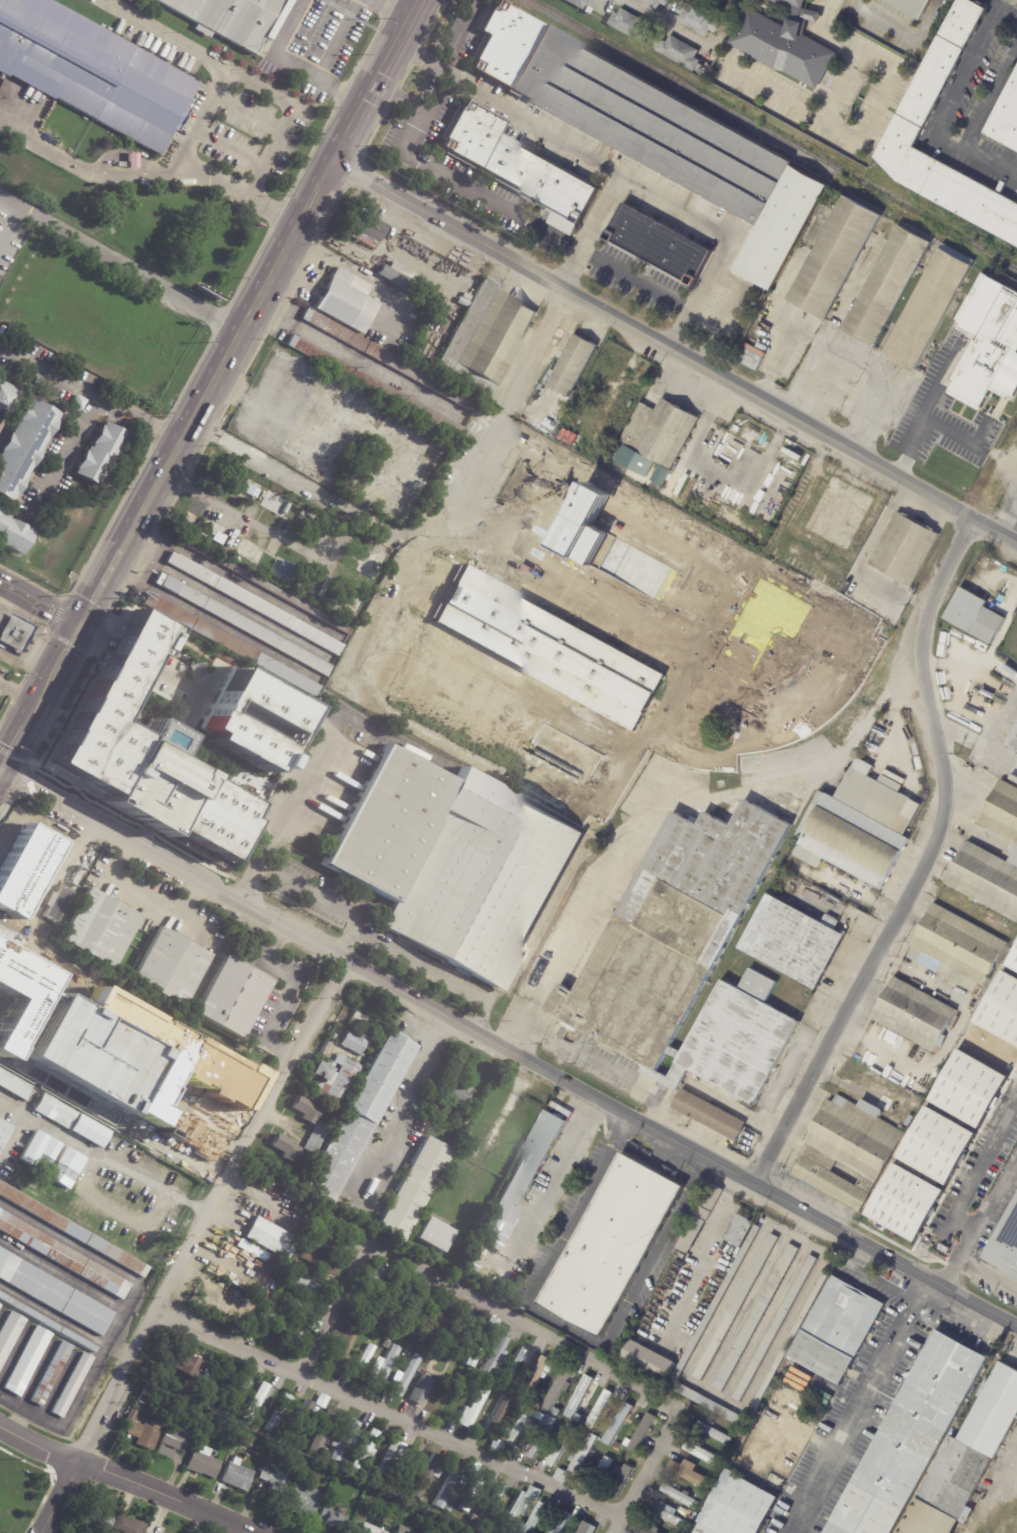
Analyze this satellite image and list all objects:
road: (1016, 0)
building: (579, 3)
building: (656, 3)
building: (913, 6)
road: (393, 9)
road: (412, 9)
building: (237, 18)
building: (696, 18)
road: (1006, 19)
road: (663, 22)
building: (630, 24)
road: (459, 32)
road: (338, 41)
building: (785, 42)
building: (680, 52)
road: (288, 66)
building: (700, 69)
building: (94, 70)
building: (934, 77)
road: (840, 89)
road: (209, 109)
road: (943, 112)
building: (57, 118)
building: (1008, 118)
road: (299, 120)
road: (870, 123)
building: (52, 126)
road: (548, 131)
building: (49, 133)
building: (654, 133)
railway: (771, 134)
building: (133, 158)
building: (515, 168)
road: (86, 169)
road: (453, 177)
building: (367, 225)
road: (12, 234)
building: (657, 247)
road: (398, 252)
building: (829, 260)
road: (121, 263)
road: (346, 265)
road: (576, 274)
building: (397, 277)
road: (637, 282)
building: (881, 287)
road: (697, 292)
building: (343, 300)
building: (921, 311)
road: (245, 321)
building: (485, 340)
building: (990, 344)
road: (674, 352)
road: (682, 352)
building: (752, 355)
road: (358, 359)
road: (767, 378)
building: (566, 383)
building: (375, 385)
railway: (212, 392)
road: (841, 393)
building: (9, 399)
building: (79, 401)
building: (366, 403)
road: (93, 404)
road: (138, 420)
building: (659, 431)
road: (913, 433)
building: (352, 438)
road: (956, 438)
building: (24, 445)
building: (379, 450)
building: (100, 452)
building: (335, 452)
building: (370, 469)
building: (326, 470)
road: (310, 489)
road: (1011, 493)
road: (622, 497)
road: (1001, 513)
road: (241, 516)
building: (806, 529)
building: (13, 533)
building: (286, 537)
building: (904, 549)
road: (428, 560)
parking lot: (688, 570)
building: (266, 586)
building: (531, 594)
road: (41, 602)
building: (255, 604)
building: (975, 616)
building: (582, 621)
traffic signals: (82, 624)
building: (243, 624)
building: (16, 634)
building: (231, 644)
building: (545, 649)
road: (61, 659)
building: (735, 683)
road: (18, 695)
building: (711, 717)
building: (882, 718)
building: (841, 731)
building: (267, 732)
road: (20, 733)
building: (1013, 740)
building: (156, 768)
traffic signals: (0, 771)
building: (1013, 778)
road: (668, 796)
building: (750, 798)
building: (1002, 810)
road: (284, 816)
road: (935, 817)
building: (858, 824)
building: (460, 858)
building: (85, 868)
building: (67, 869)
building: (987, 878)
road: (148, 892)
road: (196, 921)
building: (101, 928)
road: (346, 940)
building: (792, 940)
road: (383, 942)
building: (958, 947)
building: (687, 959)
building: (1013, 961)
building: (172, 965)
road: (289, 990)
building: (233, 997)
building: (1001, 1008)
building: (914, 1014)
building: (152, 1016)
building: (359, 1016)
building: (975, 1039)
road: (506, 1049)
building: (343, 1066)
building: (14, 1086)
building: (969, 1088)
building: (459, 1093)
road: (402, 1099)
building: (569, 1105)
building: (307, 1109)
building: (59, 1112)
building: (708, 1115)
building: (359, 1116)
building: (460, 1117)
building: (128, 1121)
building: (911, 1121)
building: (88, 1124)
building: (4, 1131)
building: (199, 1134)
building: (316, 1137)
road: (14, 1138)
building: (937, 1145)
building: (286, 1147)
building: (849, 1151)
building: (47, 1163)
road: (119, 1163)
road: (976, 1173)
road: (552, 1175)
building: (519, 1183)
building: (414, 1189)
building: (346, 1194)
building: (906, 1202)
road: (211, 1210)
building: (701, 1218)
road: (981, 1219)
building: (343, 1222)
building: (741, 1230)
building: (72, 1231)
building: (436, 1234)
building: (272, 1237)
building: (313, 1243)
building: (331, 1243)
building: (1005, 1243)
building: (613, 1245)
road: (703, 1251)
building: (63, 1256)
building: (294, 1259)
building: (529, 1260)
building: (319, 1263)
road: (988, 1273)
building: (234, 1277)
building: (287, 1283)
building: (369, 1287)
building: (310, 1288)
building: (54, 1293)
building: (388, 1298)
building: (0, 1305)
building: (296, 1305)
building: (371, 1306)
building: (409, 1306)
building: (736, 1307)
road: (332, 1311)
road: (744, 1311)
road: (54, 1314)
road: (124, 1315)
building: (757, 1317)
building: (431, 1318)
building: (249, 1319)
building: (347, 1320)
building: (48, 1322)
road: (765, 1322)
building: (494, 1323)
road: (518, 1324)
road: (564, 1324)
building: (285, 1325)
building: (313, 1325)
building: (800, 1325)
building: (385, 1326)
building: (775, 1328)
building: (837, 1330)
building: (10, 1334)
building: (517, 1334)
building: (387, 1344)
building: (342, 1345)
building: (414, 1345)
building: (478, 1346)
building: (538, 1346)
building: (409, 1352)
building: (496, 1352)
building: (368, 1354)
building: (559, 1356)
building: (651, 1360)
building: (29, 1361)
building: (553, 1363)
building: (516, 1364)
building: (191, 1366)
building: (384, 1367)
building: (52, 1373)
building: (349, 1373)
building: (407, 1375)
building: (537, 1377)
building: (72, 1385)
building: (559, 1388)
building: (422, 1389)
building: (148, 1390)
building: (238, 1390)
building: (512, 1390)
building: (538, 1391)
building: (500, 1392)
building: (579, 1399)
road: (725, 1400)
building: (258, 1401)
road: (857, 1403)
building: (516, 1405)
building: (546, 1407)
building: (475, 1408)
building: (599, 1408)
building: (556, 1411)
building: (695, 1411)
building: (280, 1412)
road: (390, 1415)
building: (496, 1415)
building: (541, 1416)
building: (303, 1418)
building: (575, 1418)
building: (617, 1423)
building: (256, 1428)
building: (513, 1428)
building: (321, 1430)
building: (142, 1431)
building: (712, 1431)
building: (585, 1433)
building: (640, 1433)
building: (539, 1437)
building: (912, 1438)
building: (175, 1439)
building: (342, 1440)
building: (249, 1441)
building: (764, 1442)
building: (561, 1444)
building: (617, 1445)
building: (497, 1448)
building: (366, 1450)
building: (702, 1453)
building: (583, 1454)
building: (625, 1457)
building: (785, 1457)
building: (388, 1458)
building: (967, 1458)
building: (344, 1461)
building: (203, 1464)
building: (325, 1468)
building: (602, 1469)
building: (561, 1475)
building: (691, 1475)
building: (237, 1476)
building: (277, 1476)
building: (426, 1477)
building: (621, 1479)
road: (123, 1480)
building: (361, 1487)
building: (450, 1487)
road: (992, 1491)
park: (20, 1492)
building: (532, 1494)
building: (700, 1494)
building: (603, 1495)
building: (681, 1496)
road: (58, 1497)
building: (304, 1499)
building: (494, 1501)
building: (399, 1504)
building: (738, 1506)
building: (467, 1507)
building: (516, 1508)
building: (342, 1510)
building: (668, 1514)
building: (422, 1515)
building: (693, 1516)
building: (475, 1517)
building: (97, 1518)
building: (332, 1518)
building: (538, 1518)
building: (561, 1523)
building: (128, 1525)
building: (587, 1528)
building: (372, 1529)
building: (648, 1529)
building: (406, 1530)
building: (627, 1531)
building: (152, 1532)

